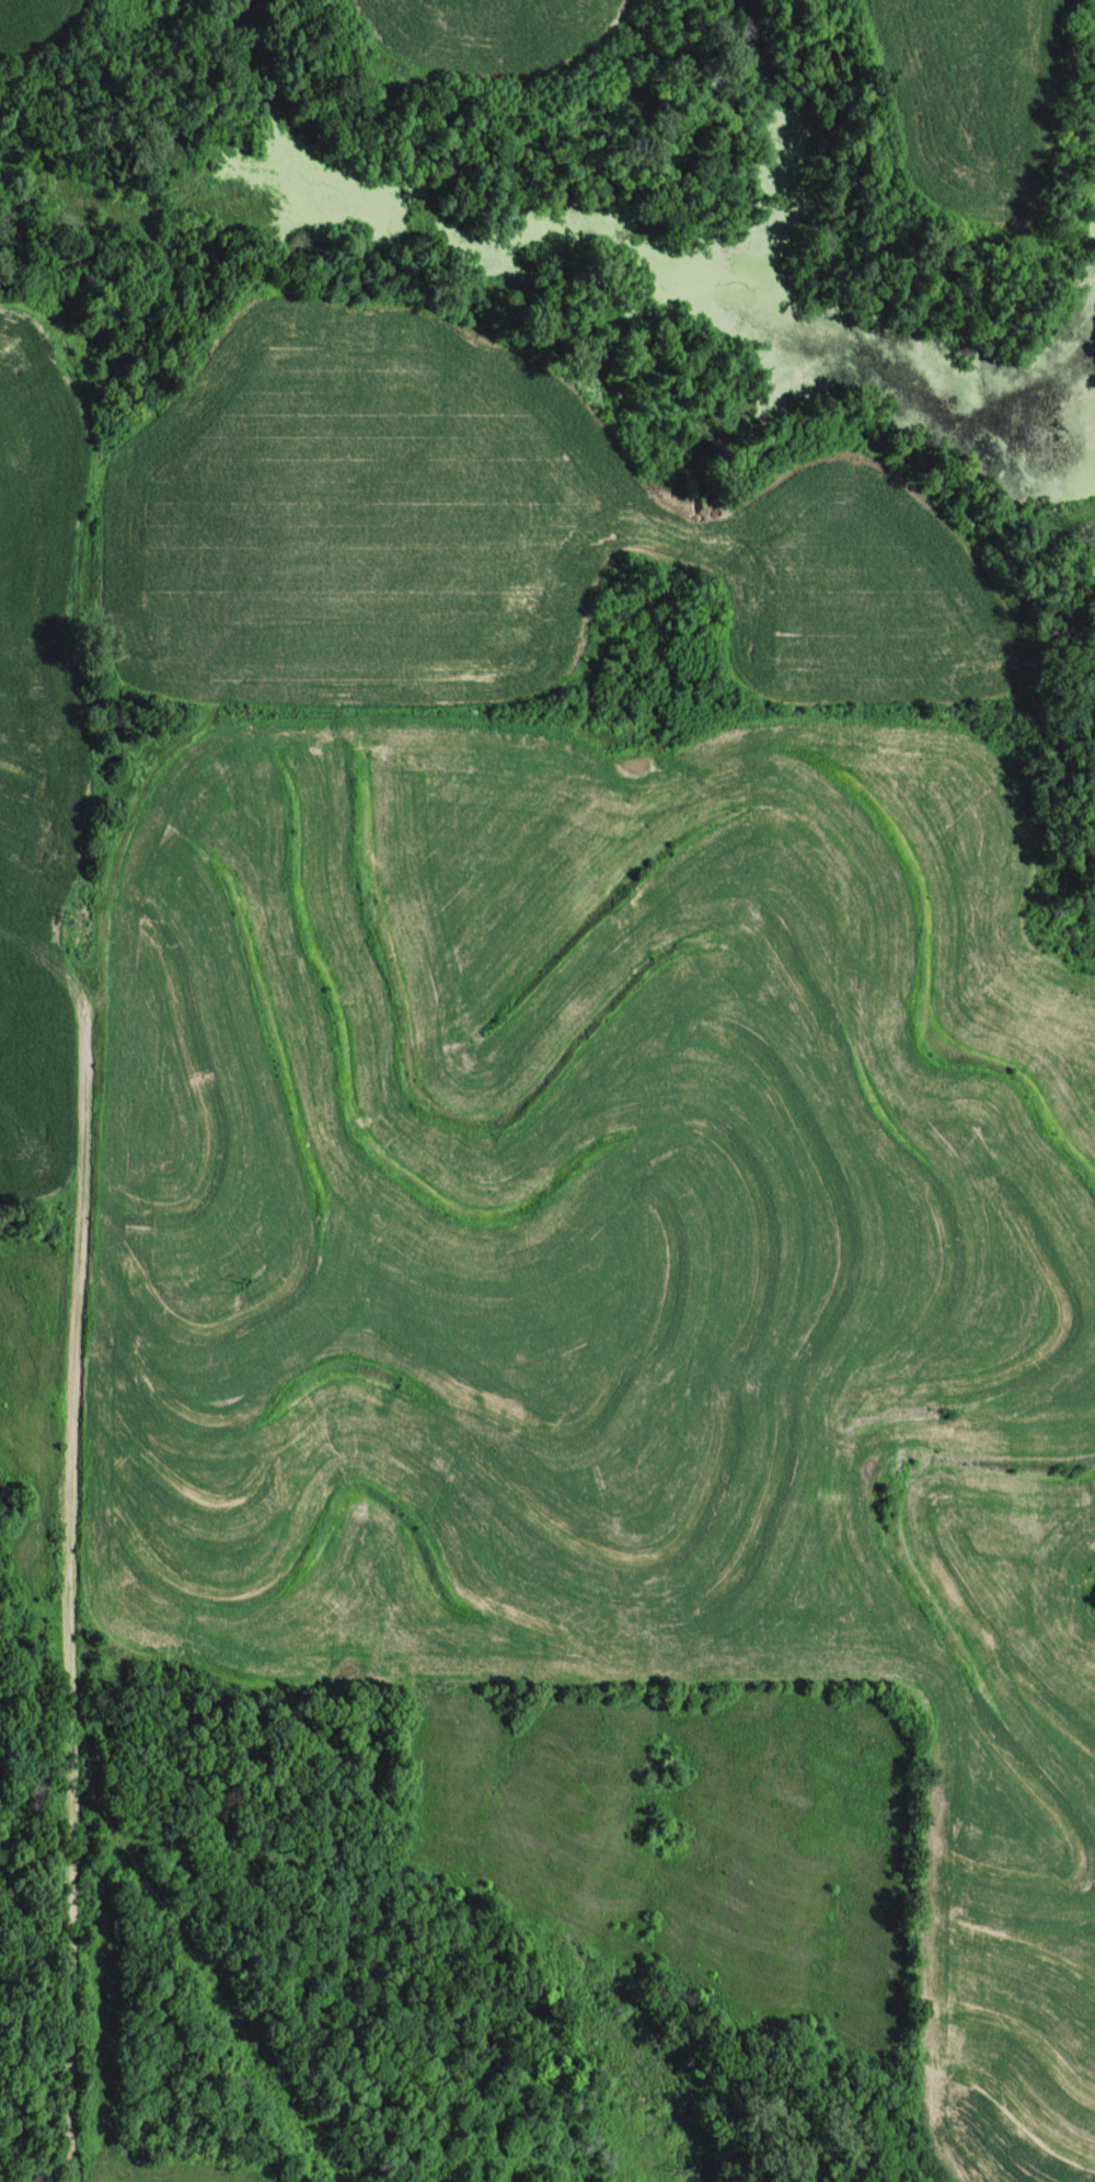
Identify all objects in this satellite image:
power tower: (72, 910)
power tower: (249, 1278)
power tower: (446, 1692)
power tower: (679, 2173)

